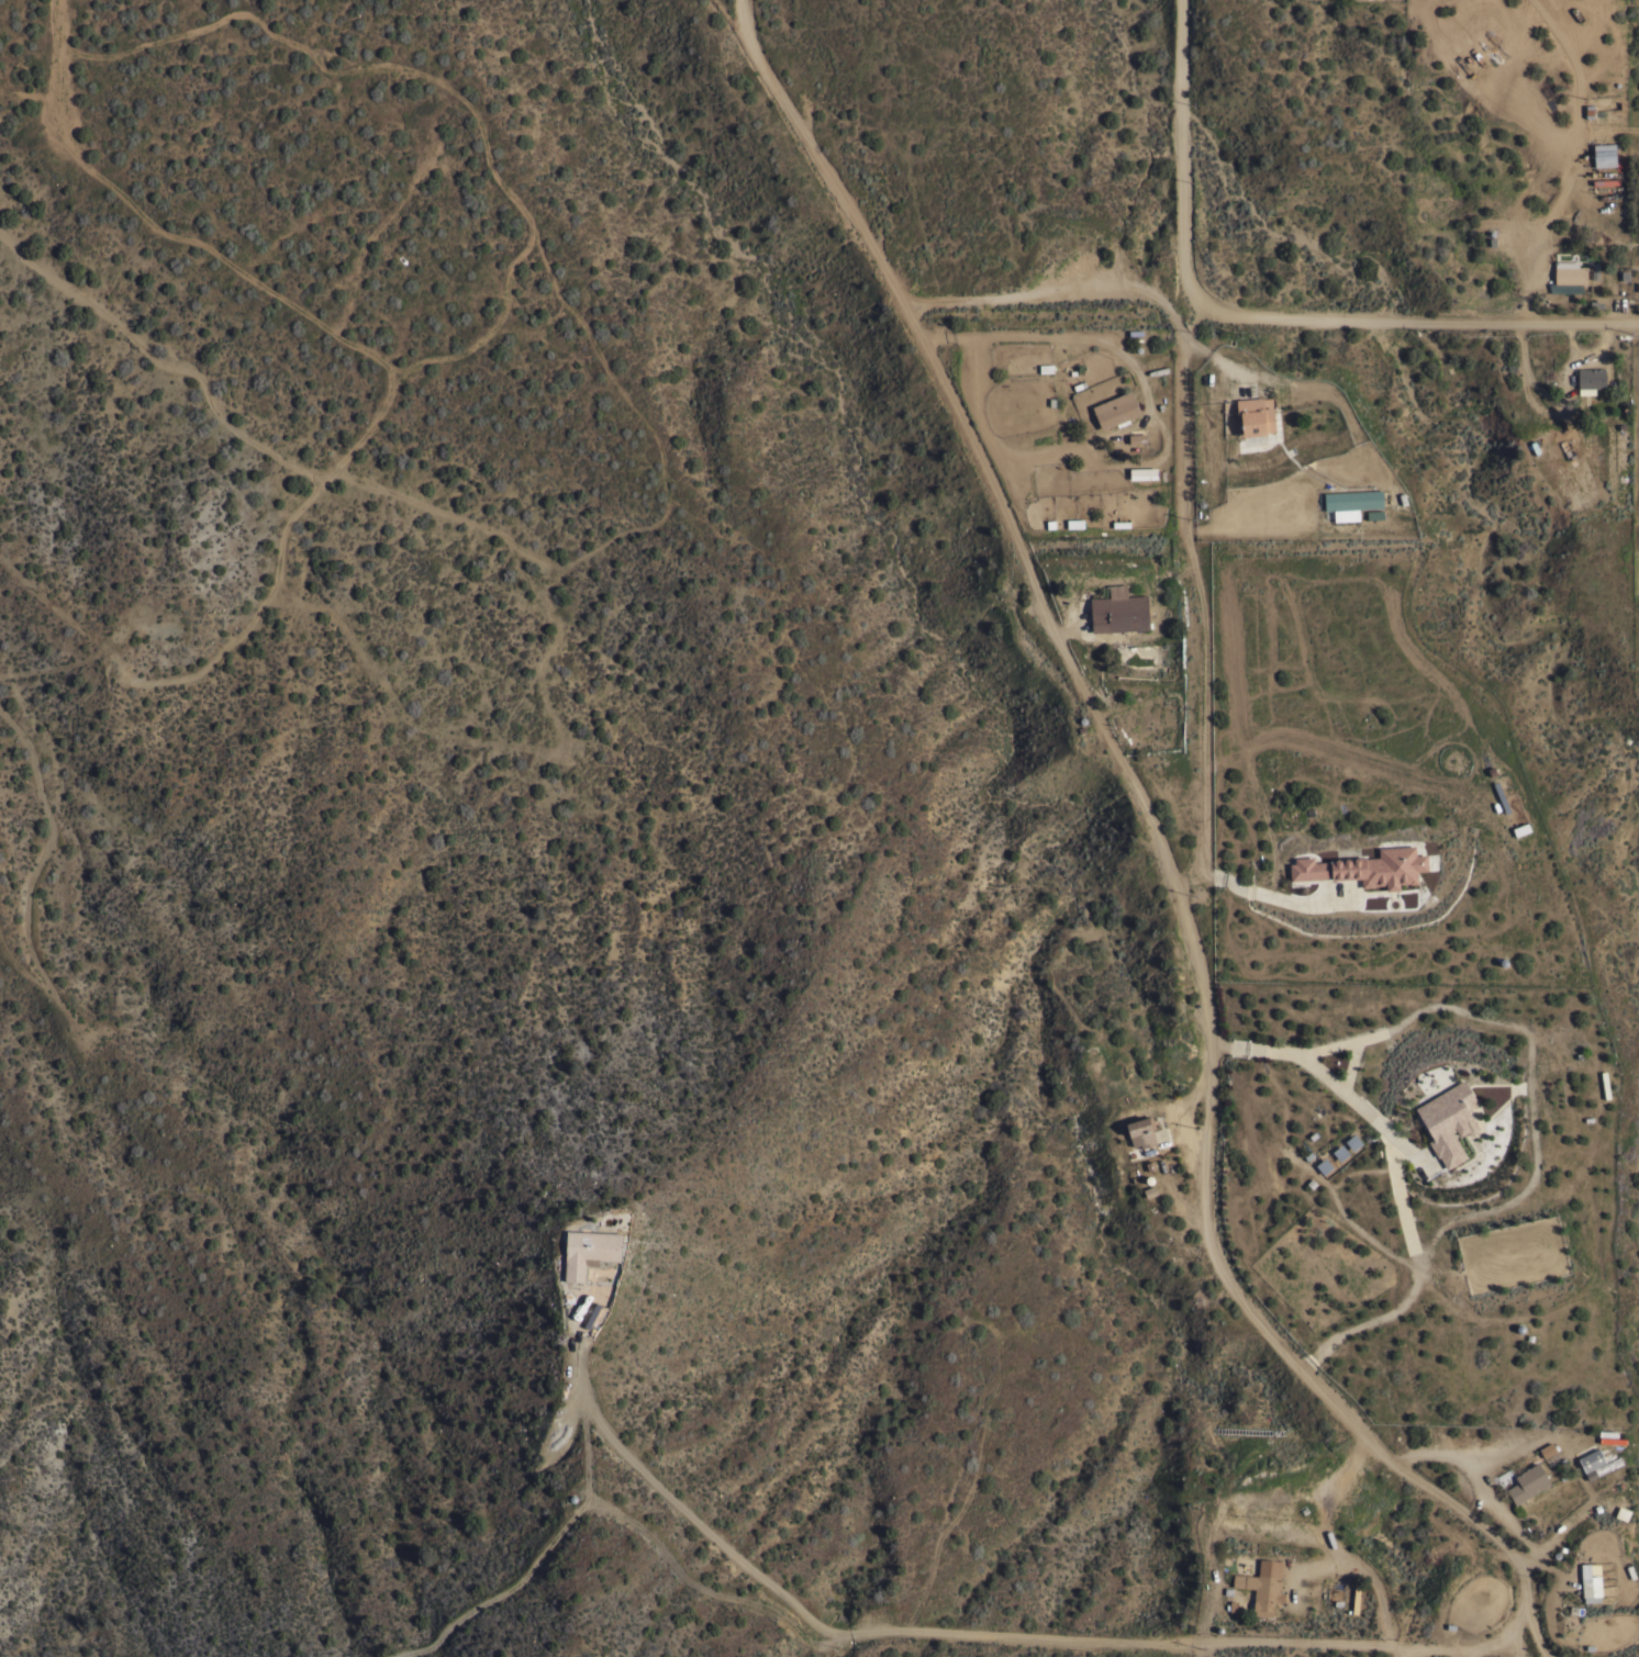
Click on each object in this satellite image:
building: (1486, 52)
road: (1586, 63)
road: (1528, 83)
building: (1604, 154)
road: (1181, 171)
road: (1553, 200)
building: (1569, 272)
road: (1435, 323)
road: (1038, 327)
building: (1590, 379)
building: (1115, 410)
building: (1255, 416)
building: (1137, 438)
building: (1620, 451)
road: (1184, 466)
building: (1142, 472)
building: (1351, 502)
building: (1373, 514)
building: (1118, 611)
road: (1151, 826)
building: (1365, 869)
road: (1351, 1056)
road: (1531, 1088)
road: (1367, 1100)
building: (1448, 1120)
building: (1140, 1131)
building: (1349, 1141)
building: (1337, 1152)
building: (1320, 1165)
road: (1402, 1196)
building: (589, 1251)
building: (1592, 1458)
building: (1526, 1482)
road: (1485, 1484)
road: (672, 1494)
road: (1328, 1502)
building: (1621, 1512)
road: (1561, 1524)
road: (1298, 1568)
building: (1591, 1581)
building: (1260, 1590)
road: (1212, 1642)
road: (1402, 1652)
road: (1467, 1653)

